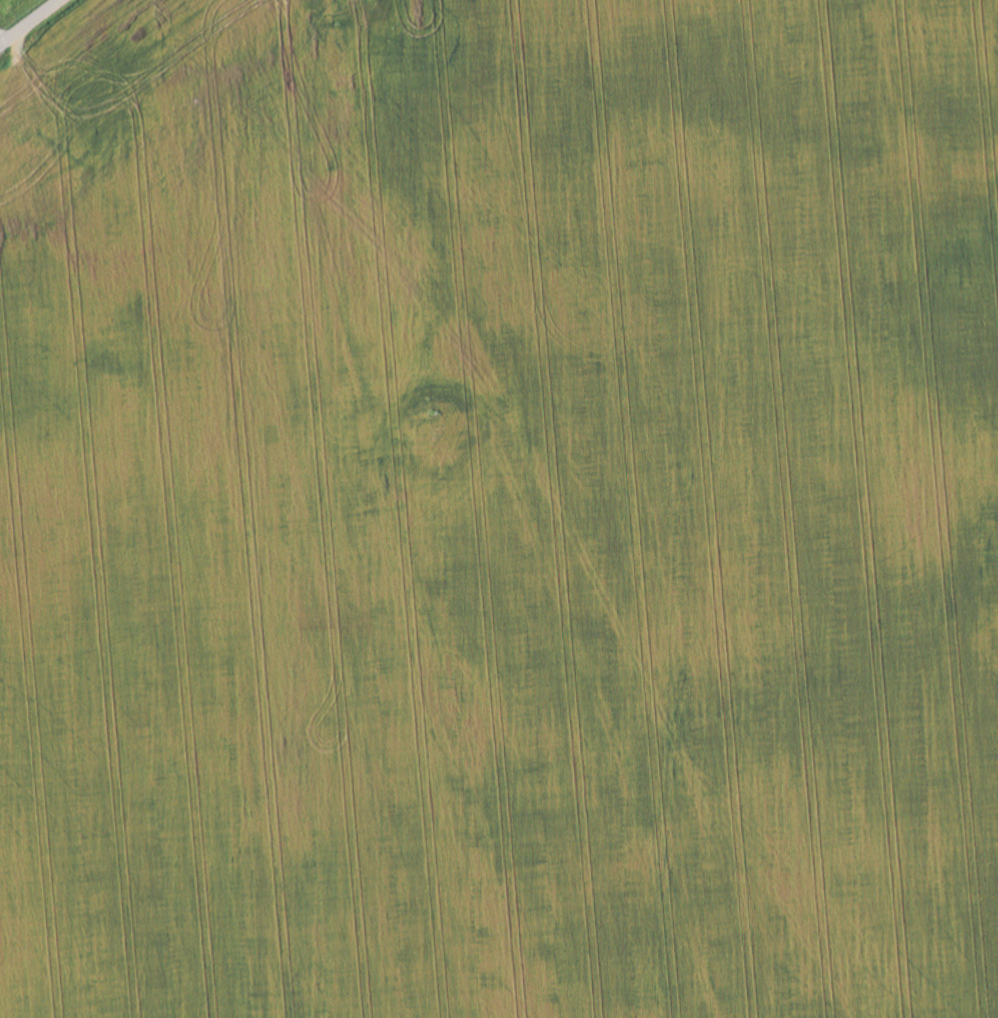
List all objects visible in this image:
road: (31, 22)

